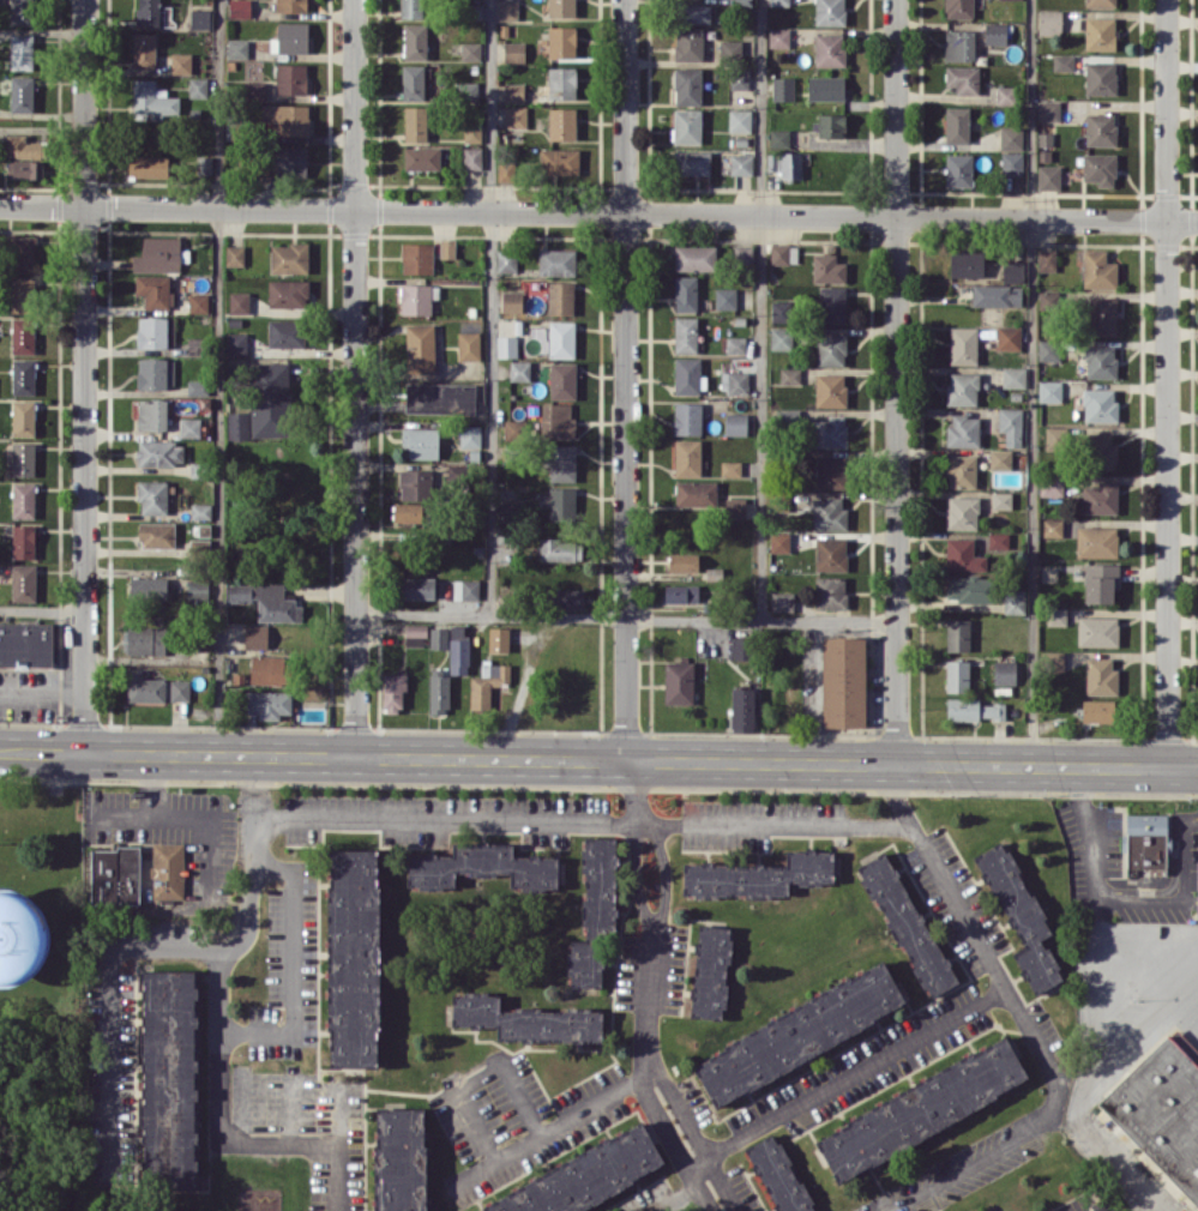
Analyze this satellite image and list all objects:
building: (742, 2)
building: (778, 2)
building: (1100, 2)
building: (290, 5)
building: (240, 7)
building: (561, 7)
building: (411, 8)
building: (958, 8)
building: (507, 10)
building: (23, 12)
building: (148, 12)
building: (829, 12)
building: (696, 13)
building: (200, 18)
building: (1049, 20)
building: (995, 32)
building: (1100, 32)
building: (778, 36)
building: (290, 38)
building: (415, 41)
building: (561, 41)
building: (688, 43)
building: (958, 44)
building: (237, 48)
building: (730, 48)
building: (144, 49)
building: (830, 49)
building: (470, 50)
building: (513, 50)
building: (22, 52)
building: (181, 62)
building: (1062, 62)
building: (1100, 77)
building: (290, 78)
building: (739, 78)
building: (963, 78)
building: (413, 82)
building: (561, 82)
building: (198, 86)
building: (687, 86)
building: (783, 88)
building: (825, 88)
building: (253, 90)
building: (468, 92)
building: (513, 92)
building: (22, 94)
building: (1004, 94)
building: (153, 100)
building: (1048, 110)
building: (516, 116)
building: (287, 119)
building: (740, 120)
building: (415, 122)
building: (561, 123)
building: (830, 125)
building: (957, 125)
building: (687, 126)
building: (1100, 128)
building: (472, 131)
building: (1011, 137)
building: (779, 138)
building: (24, 146)
building: (1045, 146)
building: (421, 157)
building: (471, 157)
building: (291, 159)
building: (559, 161)
building: (691, 162)
building: (1012, 162)
building: (741, 163)
building: (785, 163)
building: (203, 164)
building: (148, 165)
building: (1098, 168)
building: (25, 169)
building: (958, 169)
building: (506, 170)
building: (1048, 176)
road: (598, 212)
building: (447, 248)
building: (20, 252)
building: (781, 253)
building: (158, 254)
building: (235, 254)
building: (742, 254)
building: (289, 258)
building: (416, 258)
building: (694, 258)
building: (1046, 259)
building: (506, 260)
building: (556, 261)
building: (967, 264)
building: (827, 267)
building: (1097, 270)
building: (1013, 271)
building: (153, 290)
building: (288, 293)
building: (685, 293)
building: (22, 294)
building: (997, 295)
building: (561, 297)
building: (726, 297)
building: (415, 299)
building: (512, 301)
building: (198, 302)
building: (239, 302)
building: (832, 305)
road: (490, 308)
road: (626, 309)
building: (781, 309)
building: (1102, 315)
building: (155, 332)
building: (285, 332)
building: (685, 333)
building: (23, 335)
building: (1009, 337)
building: (561, 338)
building: (781, 338)
building: (236, 343)
building: (735, 344)
building: (963, 344)
building: (468, 345)
building: (506, 345)
building: (420, 348)
building: (831, 349)
building: (1048, 349)
building: (1100, 361)
building: (519, 369)
building: (155, 373)
building: (687, 375)
building: (789, 375)
building: (23, 376)
road: (83, 376)
building: (1013, 376)
road: (217, 378)
road: (355, 378)
road: (761, 378)
building: (562, 380)
building: (734, 381)
road: (897, 381)
road: (1031, 382)
road: (1167, 382)
building: (198, 386)
building: (962, 387)
building: (830, 388)
building: (1049, 391)
building: (440, 397)
building: (270, 399)
building: (1098, 404)
building: (152, 414)
building: (23, 417)
building: (687, 417)
building: (556, 420)
building: (735, 423)
building: (237, 424)
building: (1011, 424)
building: (189, 427)
building: (963, 430)
building: (829, 432)
building: (470, 435)
building: (1054, 436)
building: (421, 442)
building: (1101, 451)
building: (159, 452)
building: (687, 457)
building: (1000, 458)
building: (23, 459)
building: (562, 463)
building: (730, 468)
building: (961, 470)
building: (831, 471)
building: (415, 483)
building: (1050, 483)
building: (694, 493)
building: (152, 496)
building: (1100, 498)
building: (23, 499)
building: (1001, 499)
building: (561, 504)
building: (735, 507)
building: (200, 511)
building: (409, 512)
building: (962, 512)
building: (829, 513)
building: (1052, 526)
building: (156, 534)
building: (998, 540)
building: (23, 541)
building: (1096, 541)
building: (779, 542)
building: (560, 549)
building: (830, 553)
building: (959, 553)
building: (684, 561)
building: (714, 573)
building: (23, 582)
building: (1100, 582)
building: (417, 586)
building: (146, 588)
building: (465, 589)
building: (969, 589)
building: (197, 590)
building: (681, 592)
building: (830, 592)
building: (570, 598)
building: (266, 600)
building: (782, 601)
building: (1013, 601)
road: (41, 608)
building: (1055, 615)
road: (490, 617)
road: (829, 621)
building: (1097, 631)
building: (415, 634)
building: (957, 634)
building: (255, 635)
building: (439, 637)
building: (499, 639)
building: (145, 640)
building: (25, 643)
building: (741, 647)
building: (458, 650)
building: (1052, 661)
building: (267, 669)
building: (1004, 671)
building: (957, 675)
building: (1101, 676)
building: (843, 681)
building: (679, 682)
building: (487, 683)
building: (144, 687)
building: (179, 689)
building: (439, 689)
building: (393, 691)
road: (626, 691)
road: (42, 700)
building: (269, 703)
building: (742, 709)
building: (973, 709)
building: (1097, 711)
road: (447, 758)
road: (1047, 766)
road: (636, 791)
road: (447, 817)
road: (177, 819)
road: (777, 823)
building: (1146, 842)
building: (482, 866)
building: (167, 869)
building: (759, 874)
building: (115, 875)
road: (666, 875)
road: (941, 875)
road: (637, 878)
road: (1092, 900)
building: (595, 912)
building: (1021, 916)
building: (907, 923)
road: (235, 944)
building: (353, 957)
road: (293, 970)
building: (710, 971)
road: (1168, 971)
building: (8, 972)
road: (112, 1001)
building: (526, 1019)
road: (1097, 1031)
building: (799, 1032)
road: (1042, 1049)
road: (475, 1076)
road: (855, 1076)
building: (168, 1077)
road: (655, 1082)
building: (921, 1109)
building: (1162, 1110)
road: (566, 1122)
road: (313, 1133)
building: (401, 1159)
road: (967, 1163)
building: (778, 1175)
building: (585, 1177)
road: (681, 1189)

